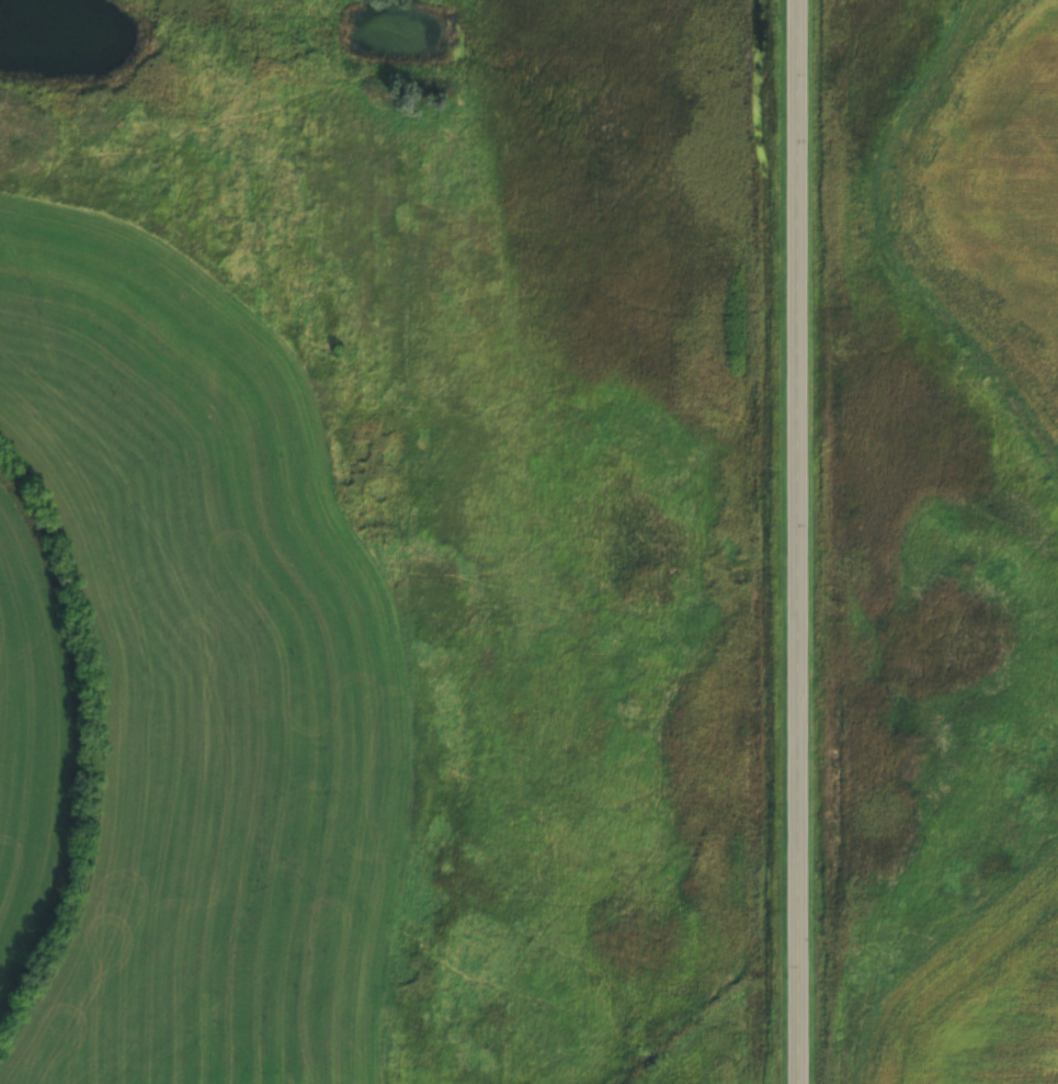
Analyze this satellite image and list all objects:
road: (796, 542)

